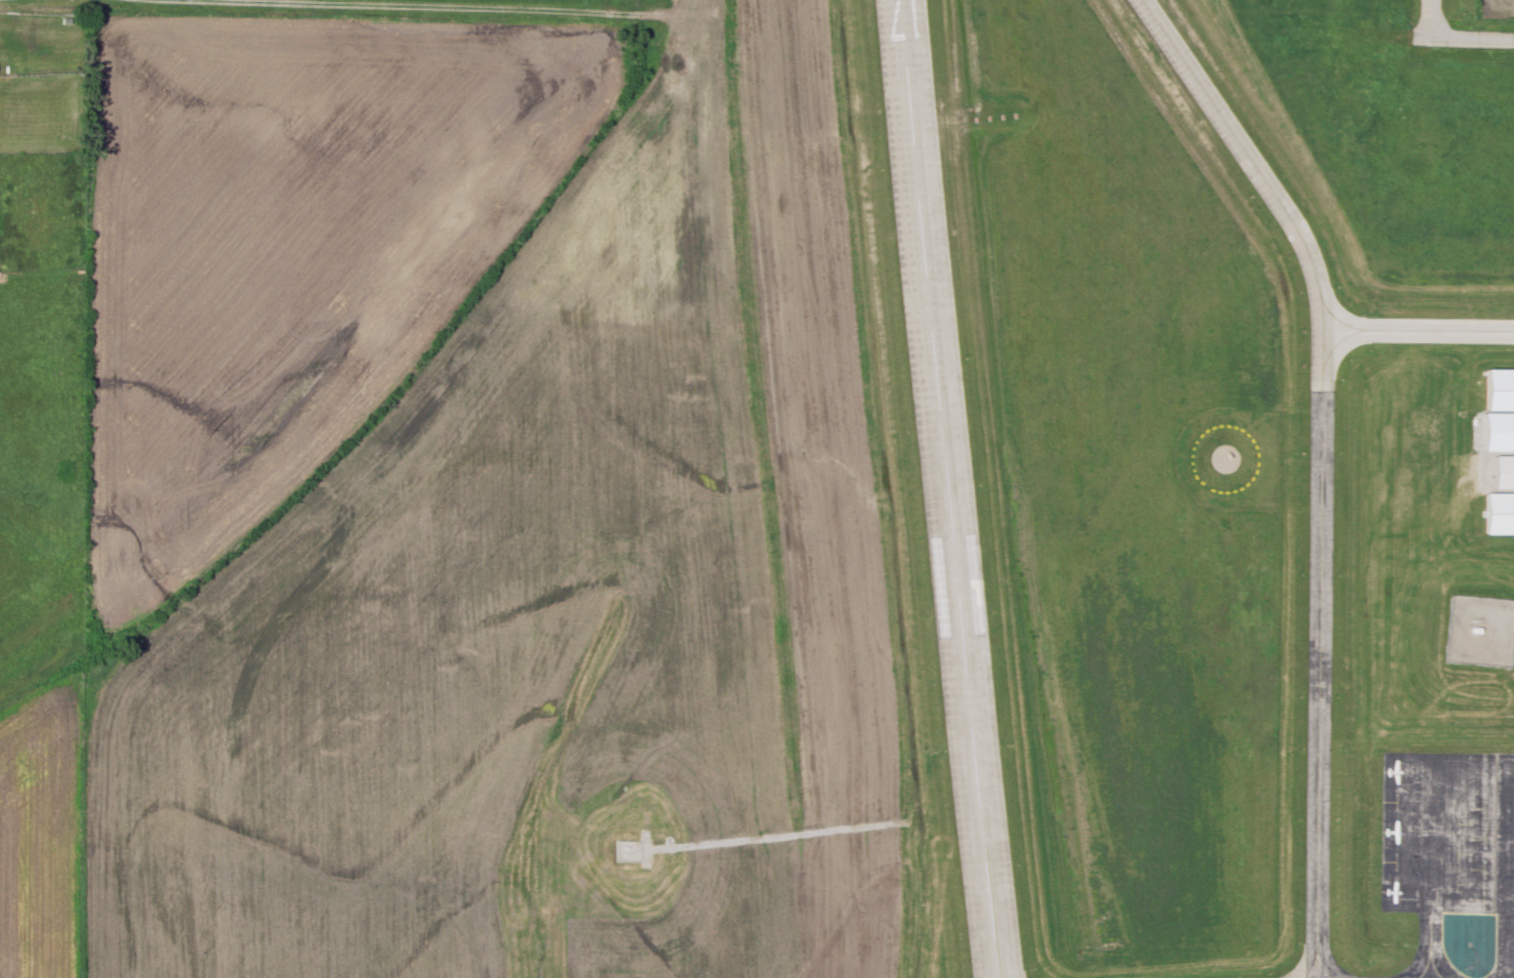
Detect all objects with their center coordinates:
road: (452, 6)
crop: (1494, 8)
road: (1427, 19)
road: (1470, 40)
crop: (1456, 329)
airport taxiway: (1324, 463)
airport runway: (950, 489)
airport: (871, 531)
crop: (559, 604)
crop: (41, 838)
airport apron: (1454, 844)
airport taxiway: (1435, 947)

